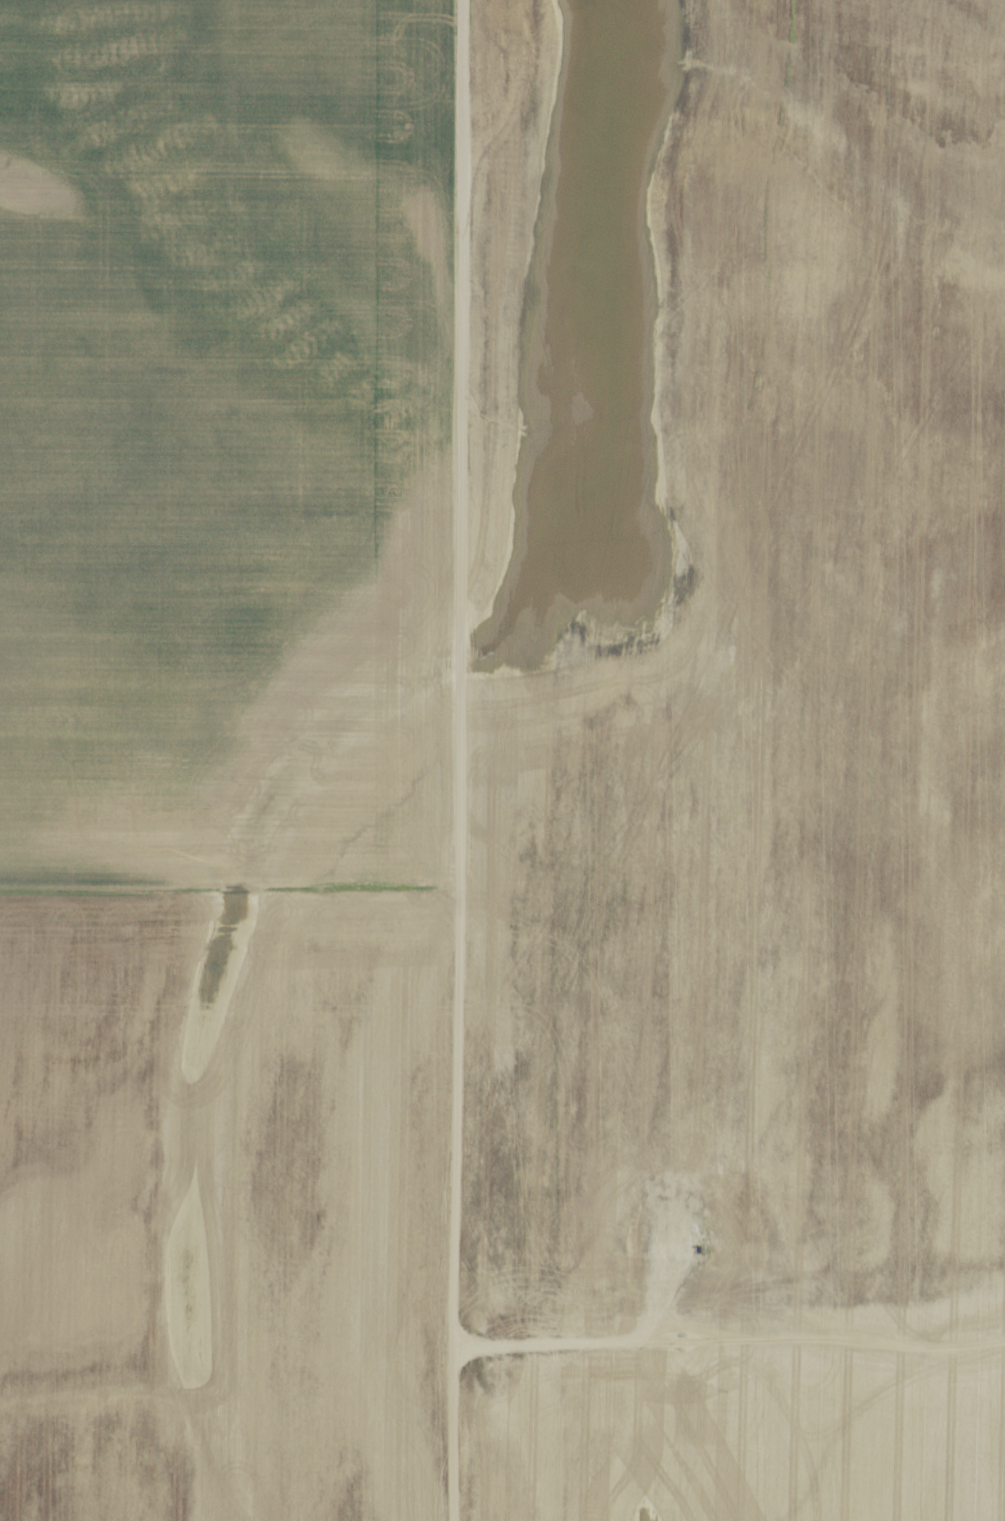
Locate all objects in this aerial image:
road: (457, 760)
road: (228, 892)
road: (721, 1343)

